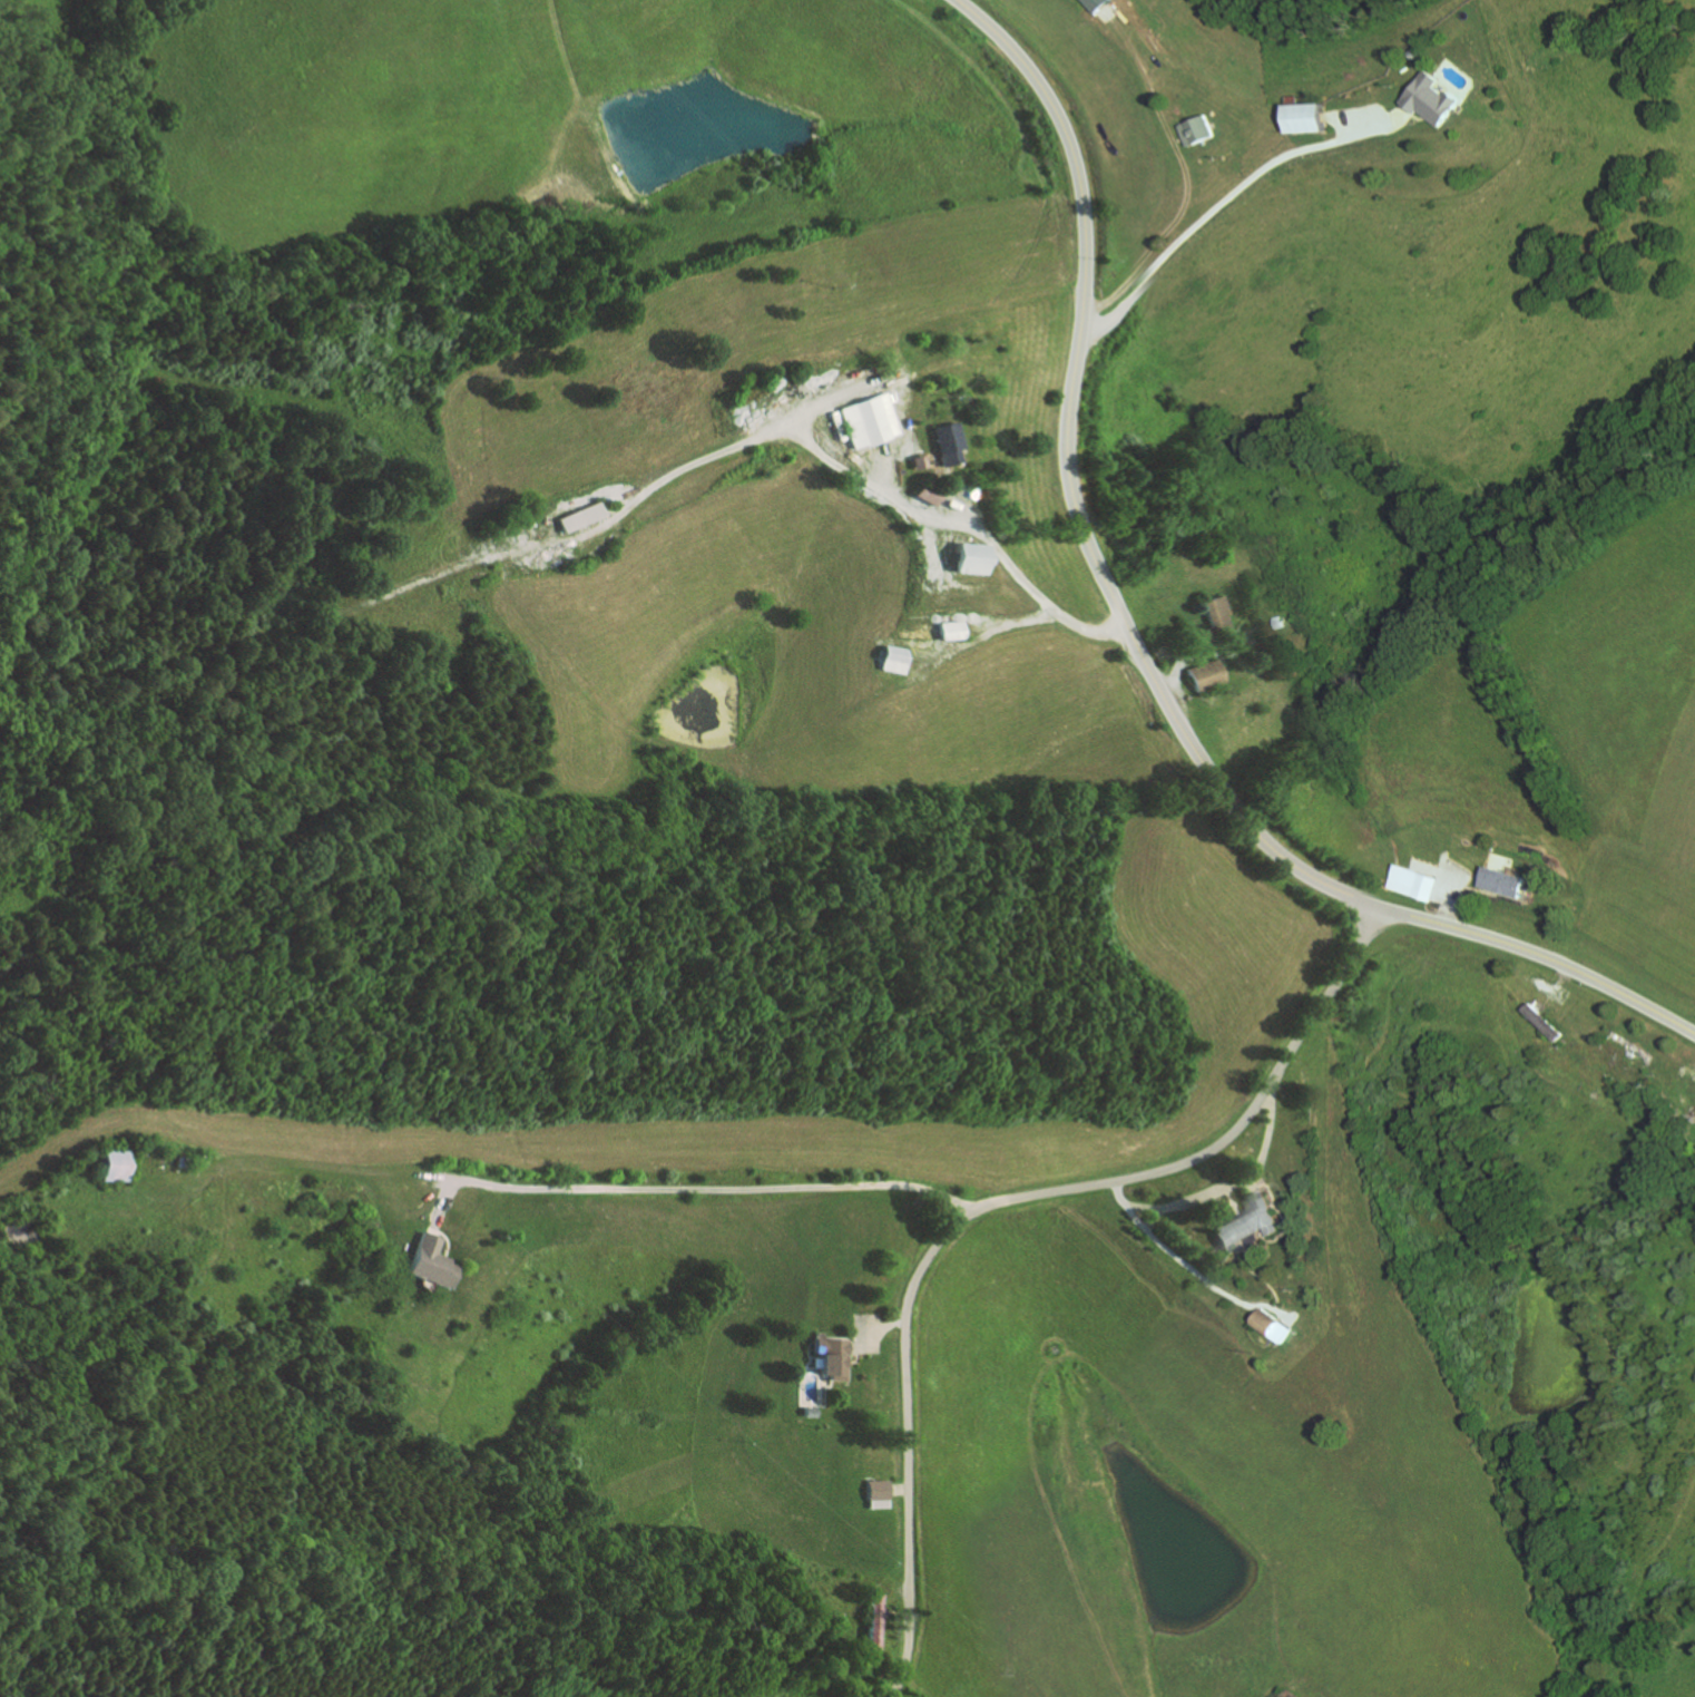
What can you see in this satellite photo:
building: (1088, 0)
building: (1100, 3)
building: (1415, 52)
building: (1380, 99)
building: (1433, 99)
building: (1310, 118)
road: (1364, 121)
building: (1202, 130)
road: (1191, 177)
road: (1049, 197)
road: (1229, 197)
building: (865, 419)
building: (939, 441)
building: (914, 459)
road: (883, 464)
road: (659, 476)
building: (922, 491)
road: (949, 495)
road: (942, 500)
building: (574, 516)
road: (946, 520)
building: (493, 526)
road: (526, 544)
road: (927, 550)
building: (964, 556)
building: (1206, 618)
building: (1285, 620)
road: (998, 625)
building: (949, 628)
road: (1136, 645)
building: (889, 657)
road: (1175, 665)
building: (1198, 673)
building: (1503, 879)
building: (1417, 880)
road: (1479, 888)
road: (1453, 897)
road: (1557, 988)
building: (1541, 1021)
building: (169, 1160)
road: (277, 1160)
building: (100, 1163)
road: (1236, 1180)
road: (1251, 1182)
road: (705, 1187)
road: (1228, 1200)
road: (987, 1203)
road: (1275, 1203)
road: (1142, 1205)
road: (437, 1206)
road: (1285, 1212)
building: (1247, 1222)
road: (445, 1238)
building: (427, 1260)
road: (1226, 1260)
road: (1192, 1269)
road: (1260, 1274)
road: (869, 1324)
building: (1272, 1325)
road: (873, 1333)
building: (826, 1356)
road: (854, 1359)
building: (805, 1411)
road: (894, 1489)
building: (873, 1493)
building: (873, 1622)
building: (868, 1680)

